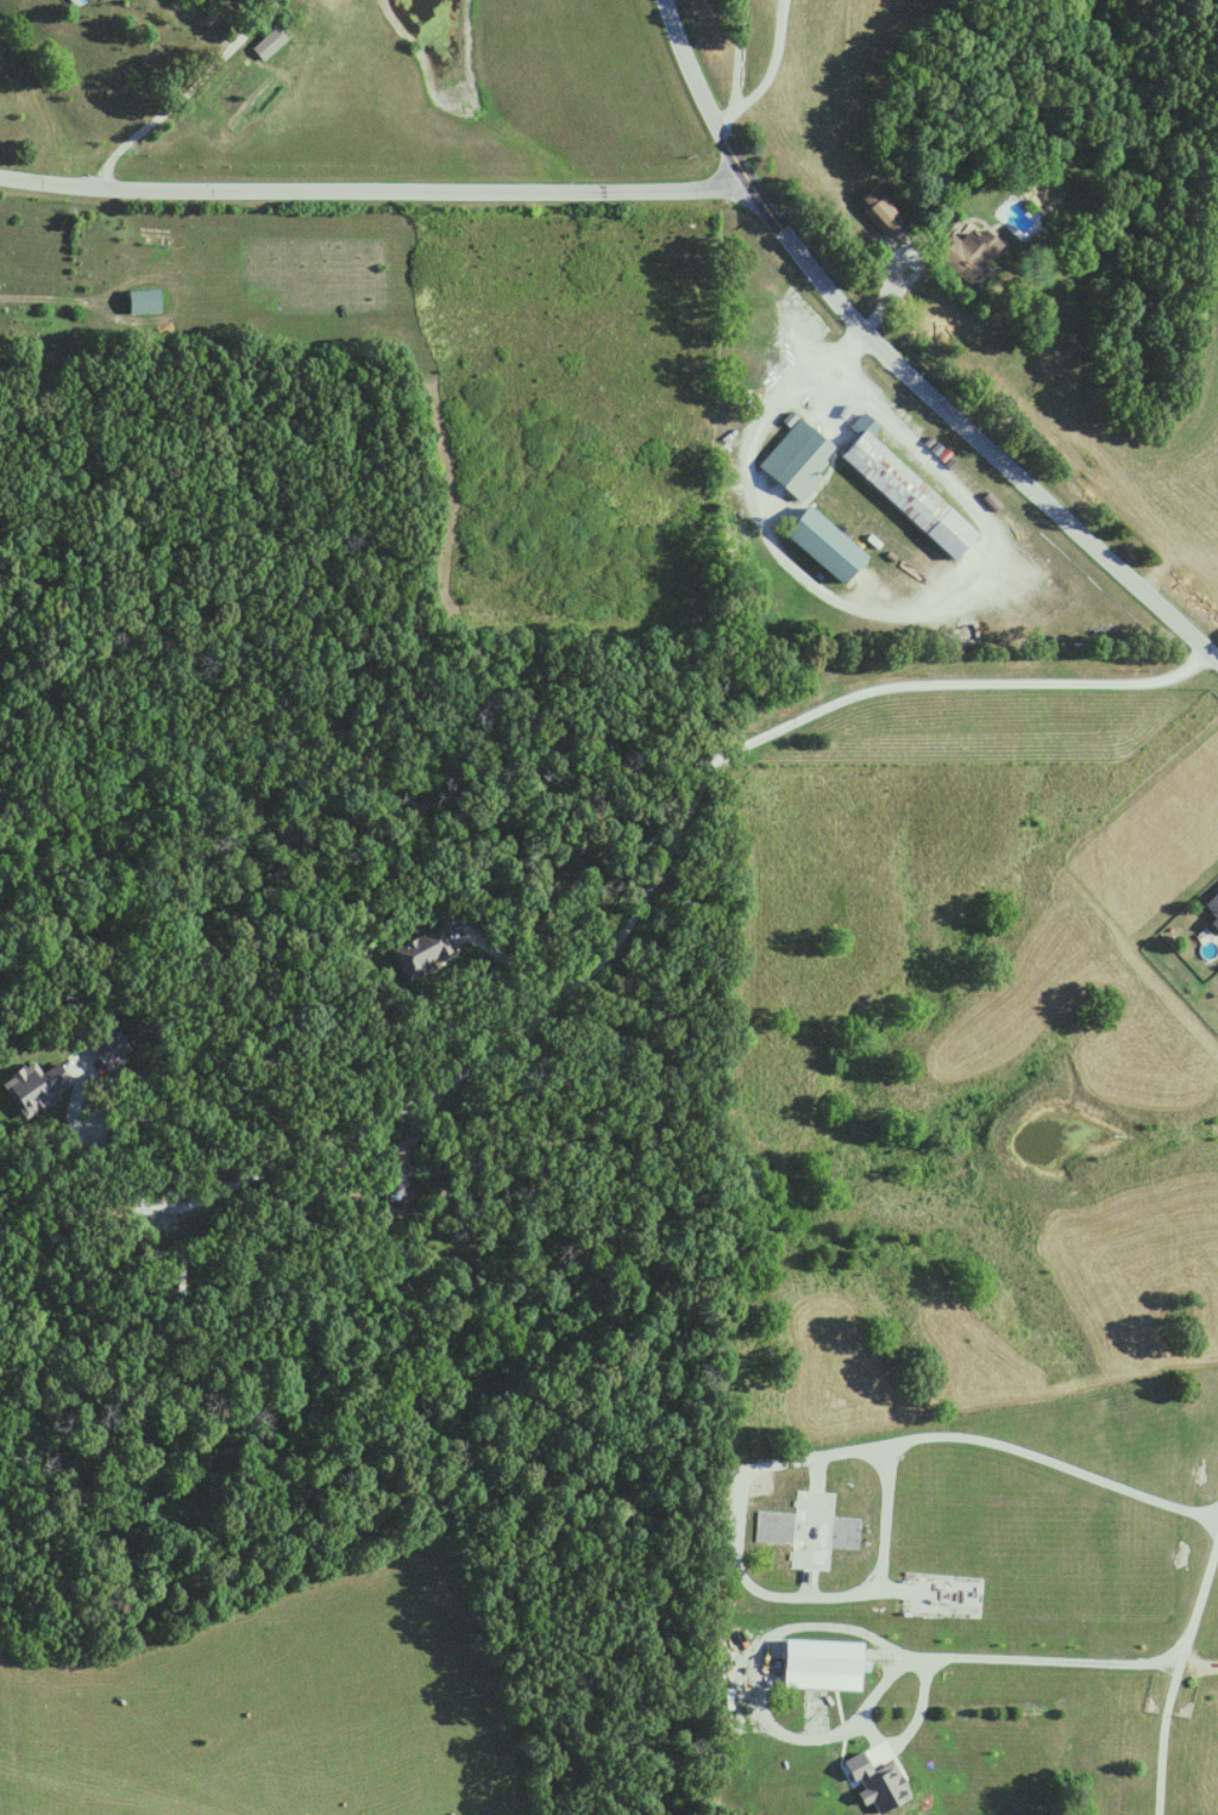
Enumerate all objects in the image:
building: (271, 43)
road: (768, 64)
road: (735, 68)
road: (182, 90)
road: (371, 194)
building: (889, 218)
building: (973, 256)
road: (843, 351)
road: (897, 364)
building: (799, 458)
building: (910, 491)
building: (830, 546)
road: (862, 608)
road: (658, 858)
building: (1217, 893)
building: (428, 952)
road: (507, 960)
road: (80, 1128)
road: (1050, 1458)
road: (814, 1590)
road: (933, 1652)
road: (1199, 1657)
road: (1175, 1671)

